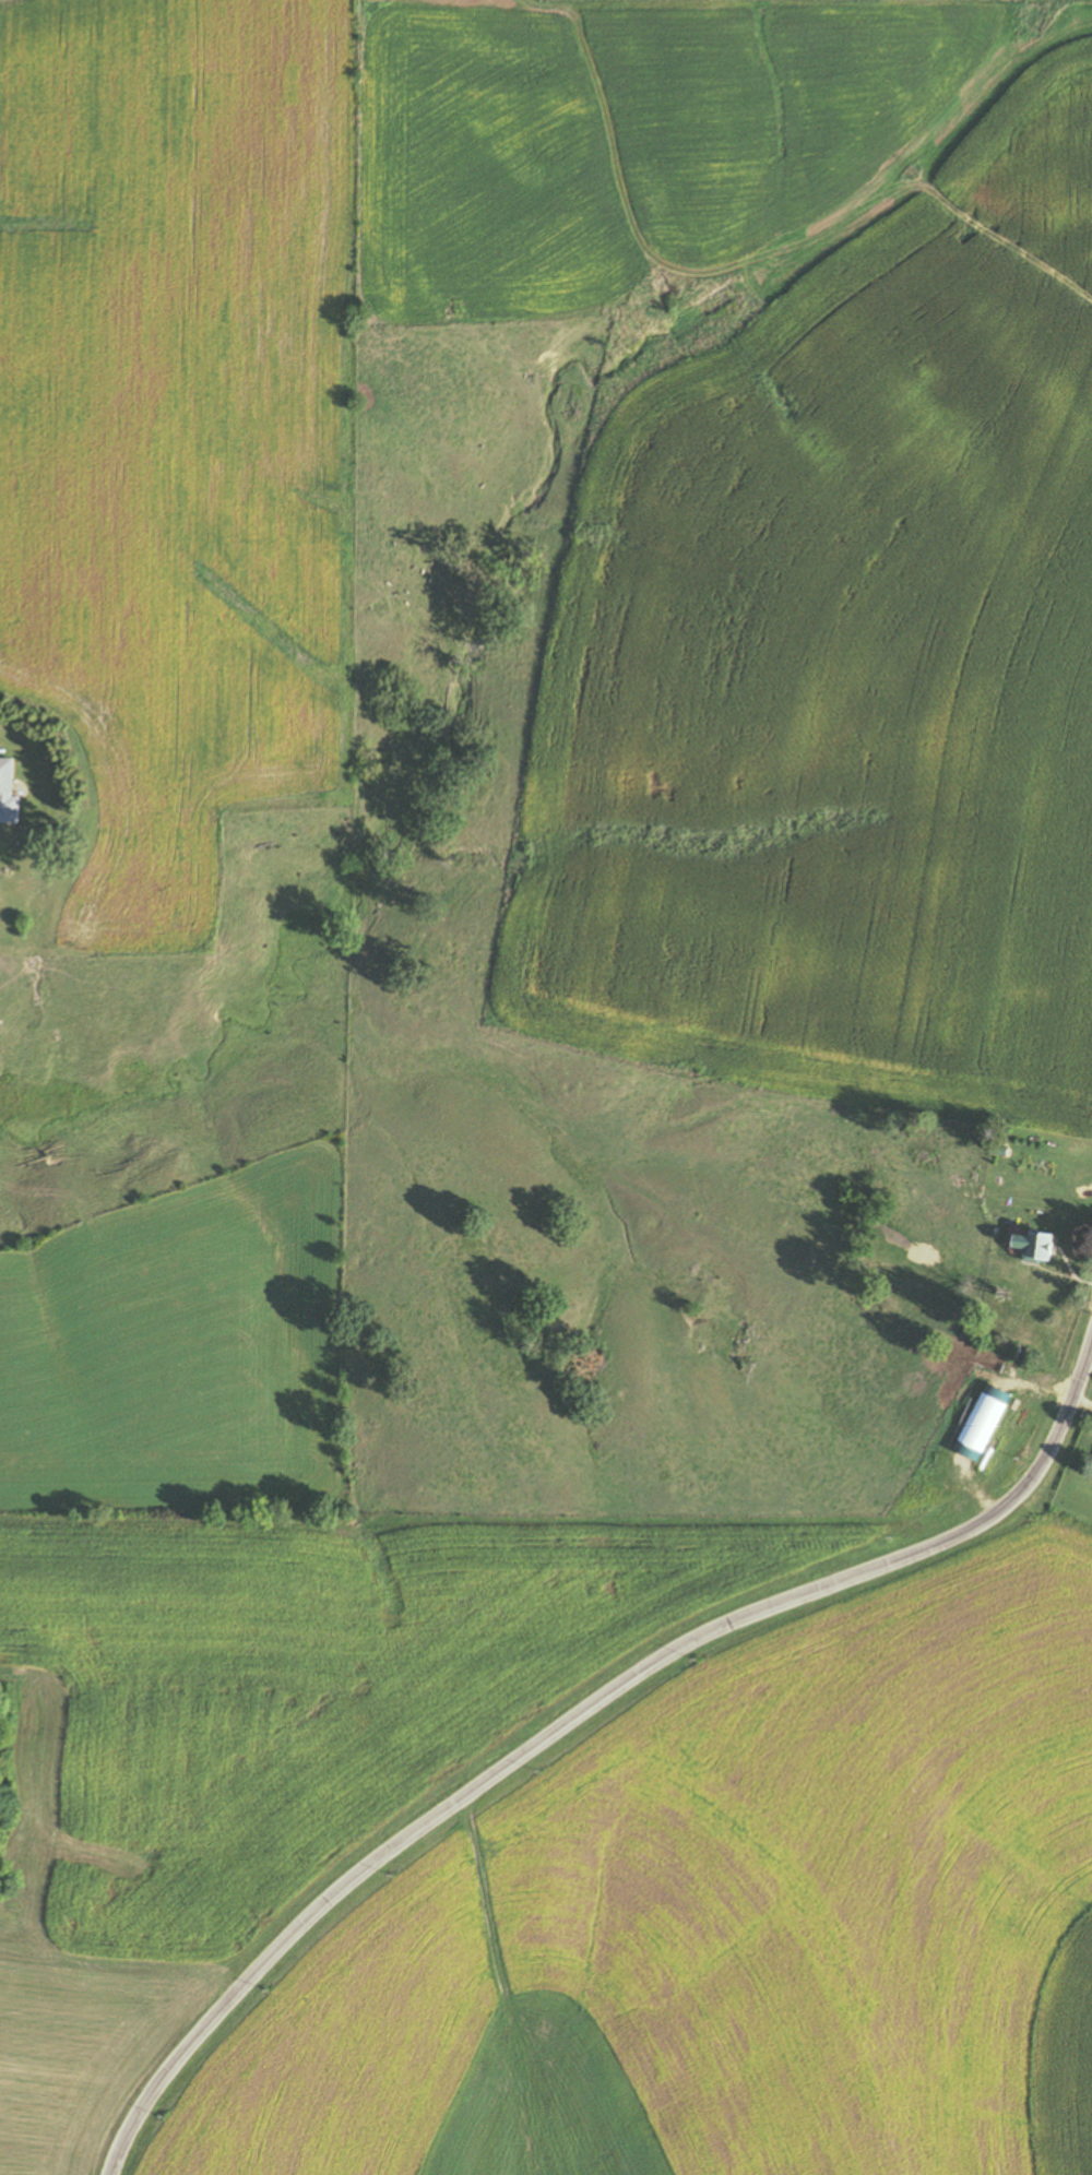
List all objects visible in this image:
road: (578, 1715)

